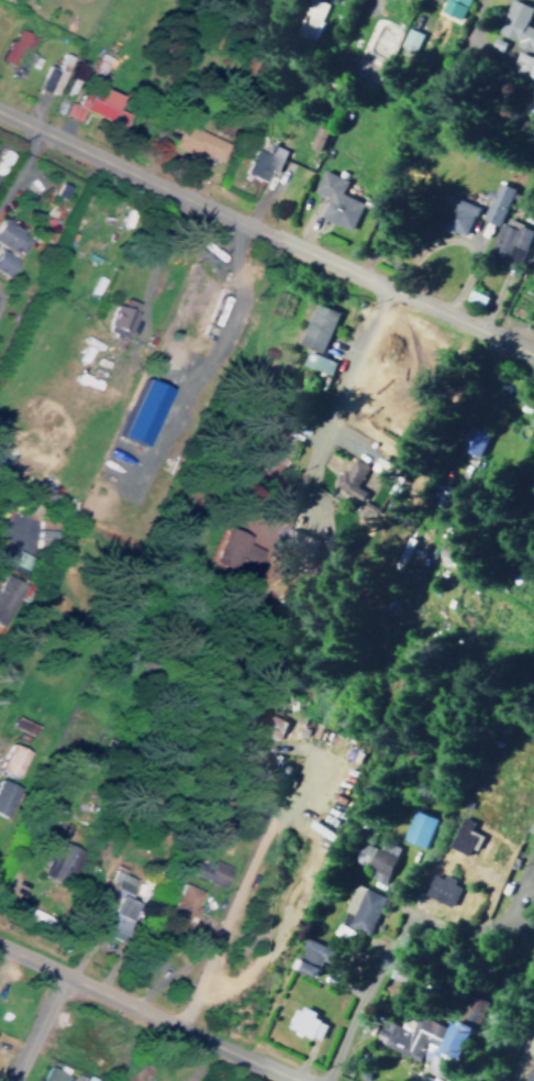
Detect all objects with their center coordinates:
building: (452, 8)
building: (307, 18)
building: (515, 25)
building: (378, 37)
building: (13, 44)
building: (522, 66)
building: (97, 67)
building: (52, 75)
building: (93, 106)
building: (313, 136)
building: (192, 141)
road: (22, 161)
building: (333, 200)
building: (493, 202)
building: (454, 214)
road: (267, 229)
building: (10, 239)
building: (508, 240)
building: (530, 262)
building: (3, 263)
building: (471, 298)
building: (223, 299)
building: (115, 318)
building: (315, 327)
building: (316, 362)
road: (338, 385)
road: (122, 389)
building: (470, 440)
building: (263, 445)
building: (323, 500)
building: (531, 509)
road: (5, 538)
building: (296, 540)
building: (442, 547)
building: (230, 551)
building: (4, 588)
building: (259, 720)
building: (10, 758)
building: (3, 794)
building: (530, 823)
building: (416, 827)
building: (459, 836)
building: (56, 850)
building: (371, 860)
building: (533, 860)
building: (207, 871)
building: (438, 887)
road: (233, 889)
building: (180, 901)
building: (114, 902)
building: (357, 907)
road: (382, 946)
building: (308, 955)
road: (31, 956)
building: (302, 1022)
road: (35, 1026)
road: (183, 1026)
building: (430, 1034)
road: (516, 1041)
building: (49, 1074)
building: (527, 1074)
building: (78, 1077)

